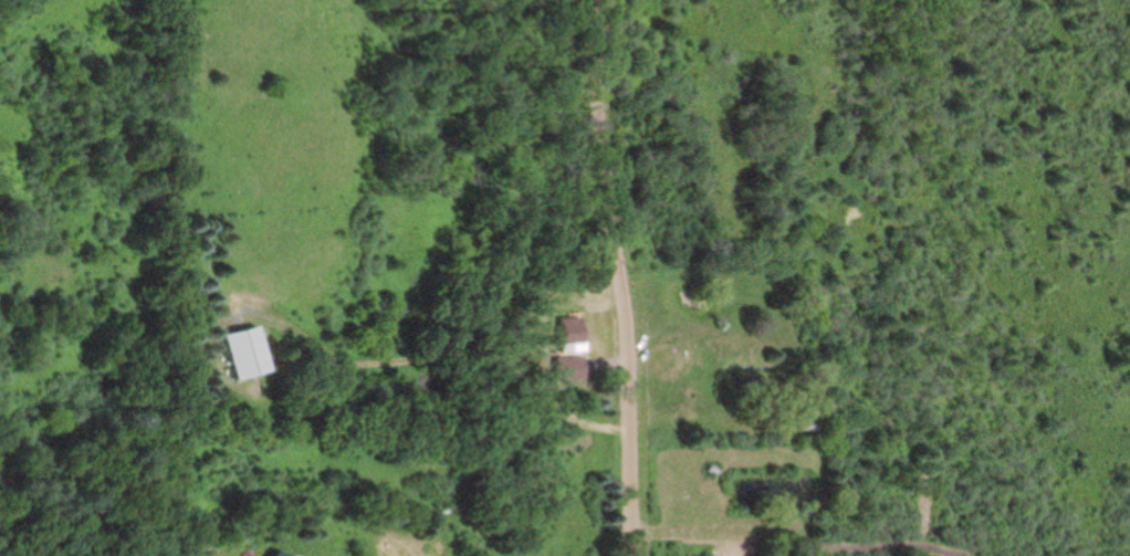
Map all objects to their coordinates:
road: (618, 277)
park: (87, 279)
building: (573, 339)
building: (251, 349)
building: (572, 369)
road: (473, 370)

